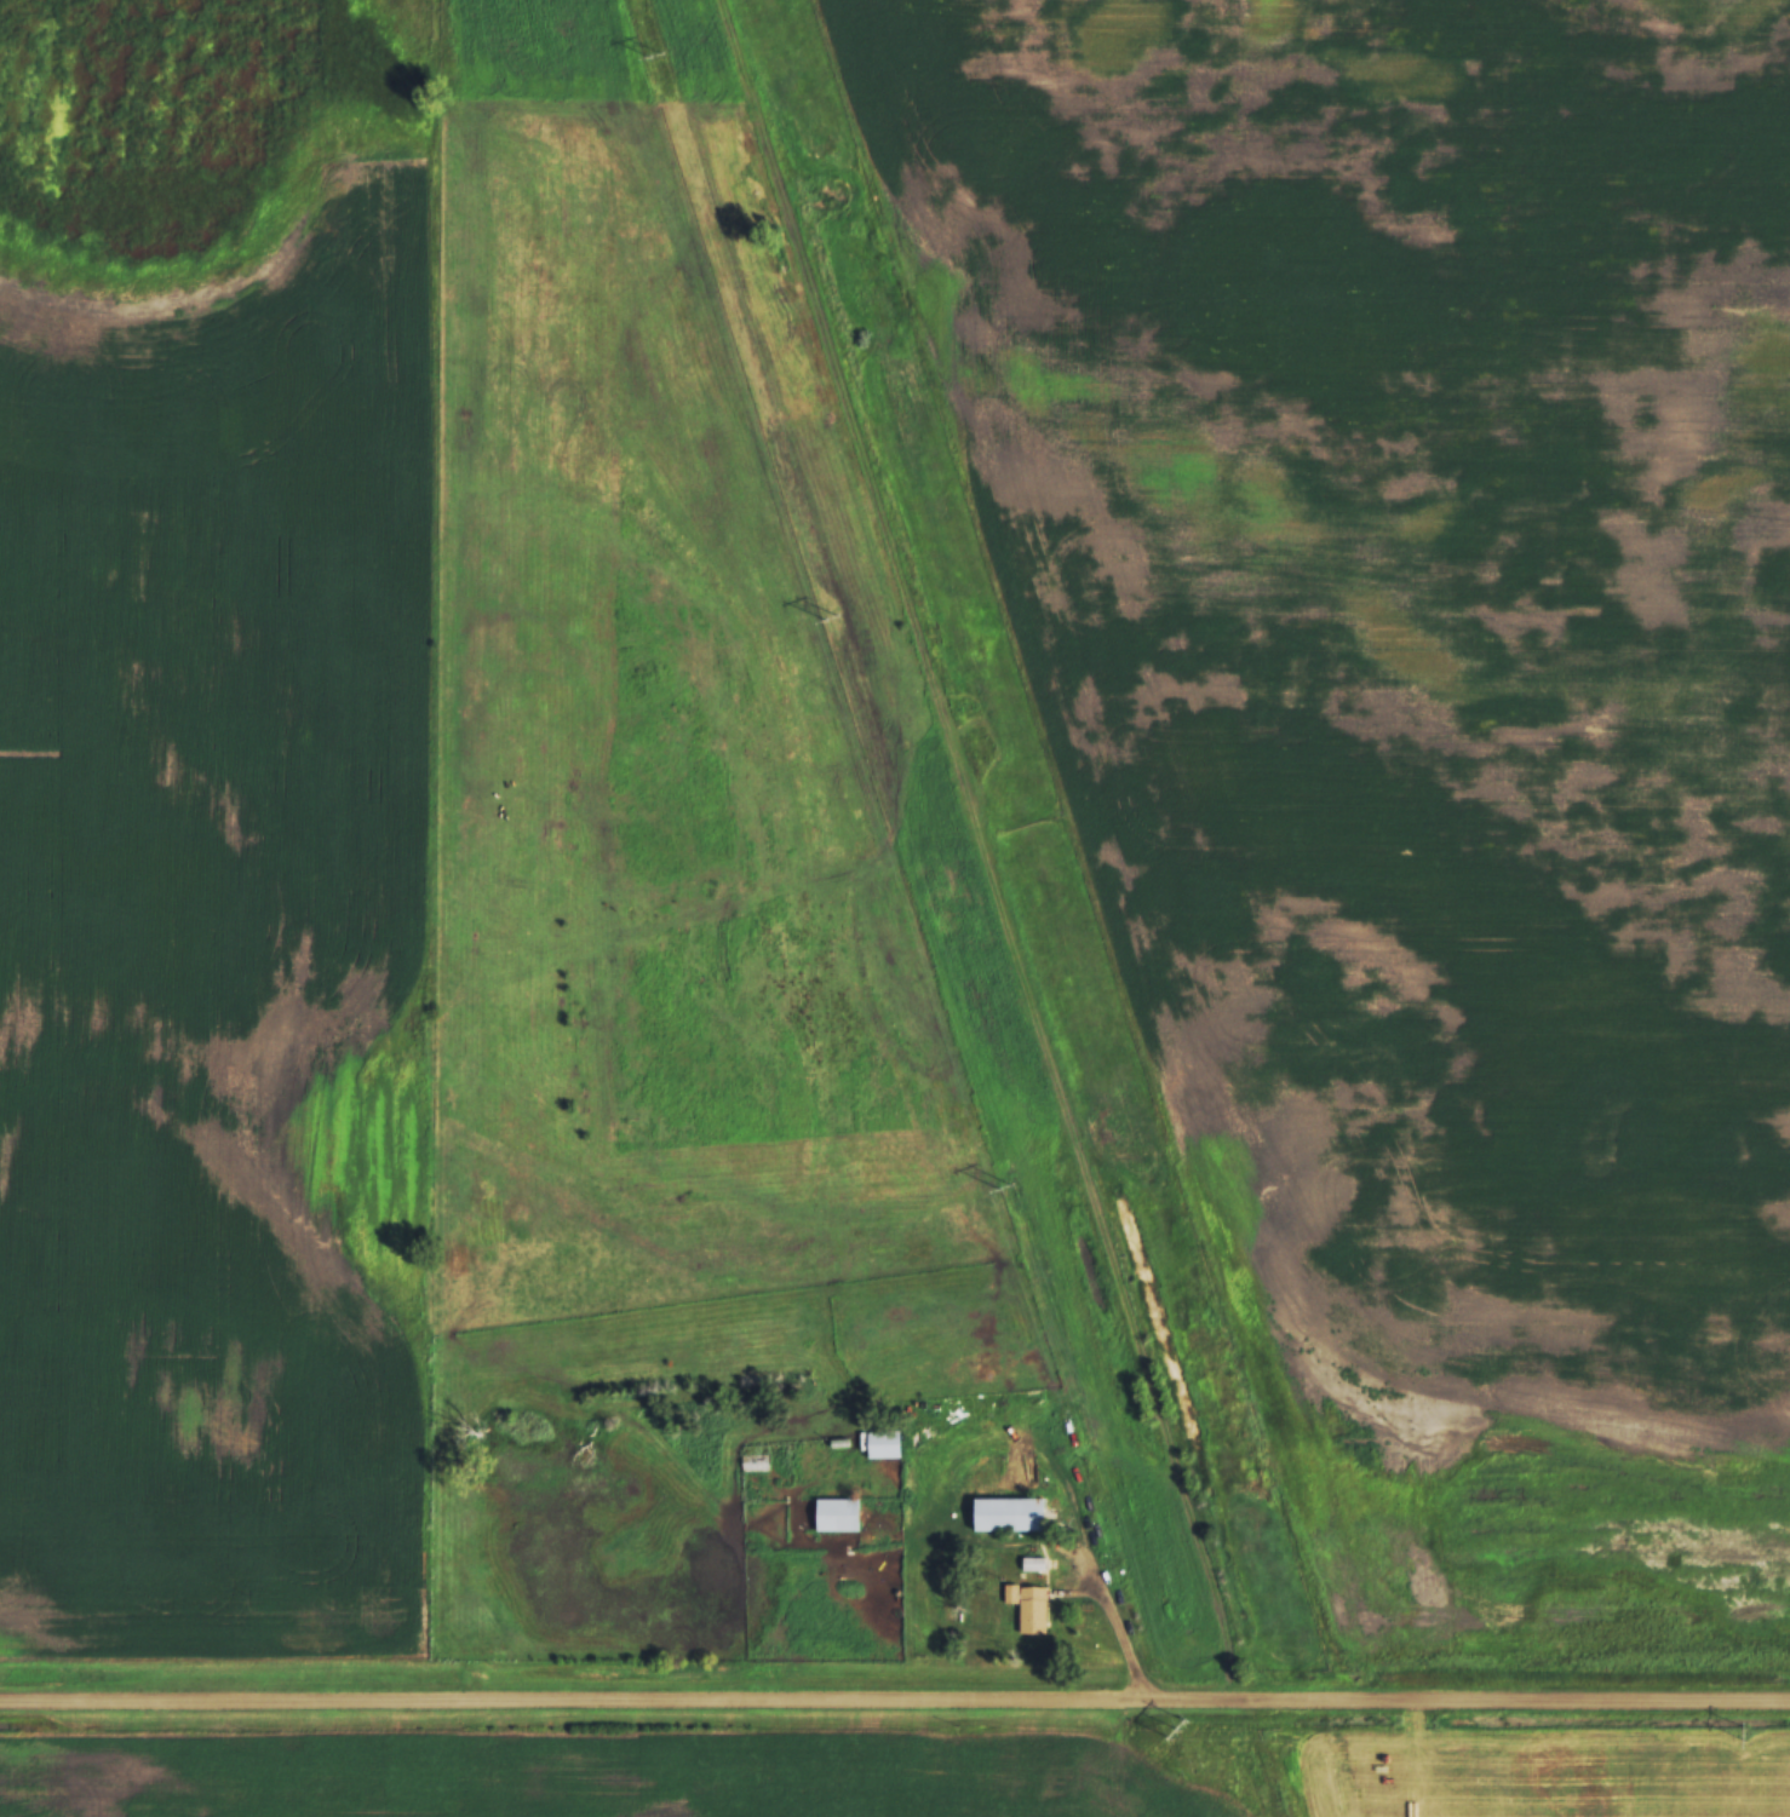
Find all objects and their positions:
power tower: (656, 56)
power tower: (831, 617)
power tower: (1004, 1186)
building: (885, 1443)
building: (838, 1513)
building: (1011, 1514)
building: (1029, 1606)
road: (1117, 1631)
road: (895, 1703)
power tower: (1172, 1730)
power tower: (1743, 1733)

